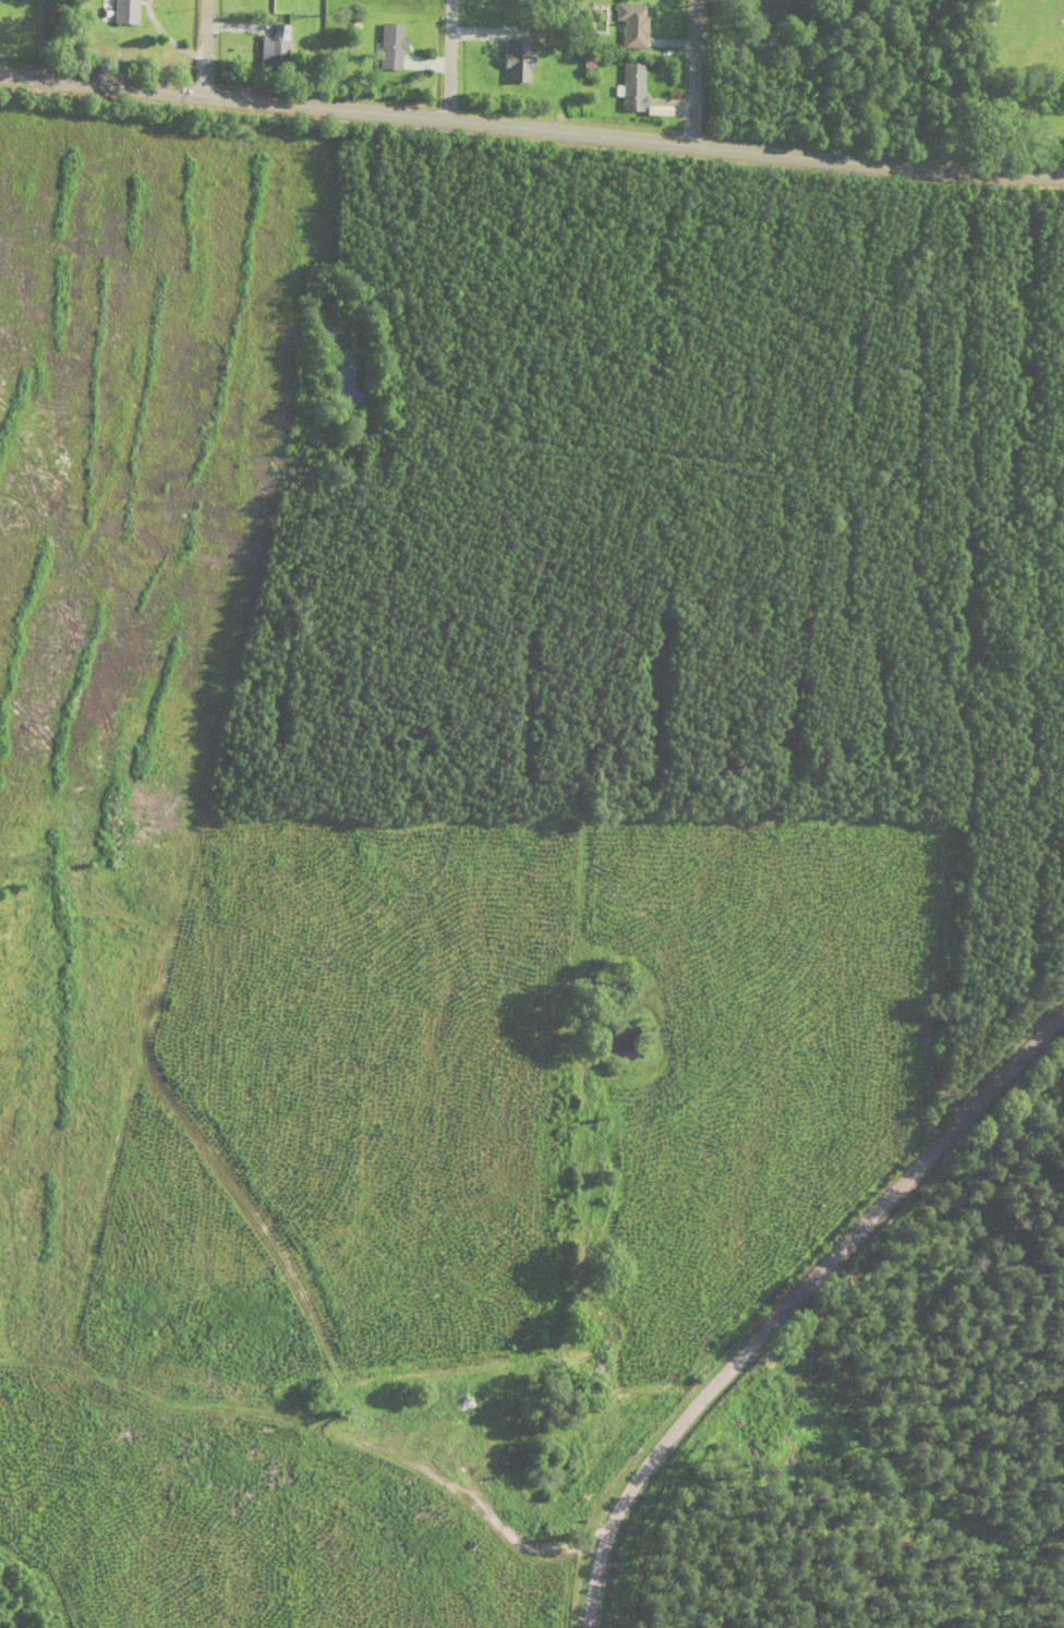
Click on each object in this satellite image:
road: (204, 44)
road: (447, 56)
road: (694, 69)
road: (531, 120)
road: (791, 1299)

